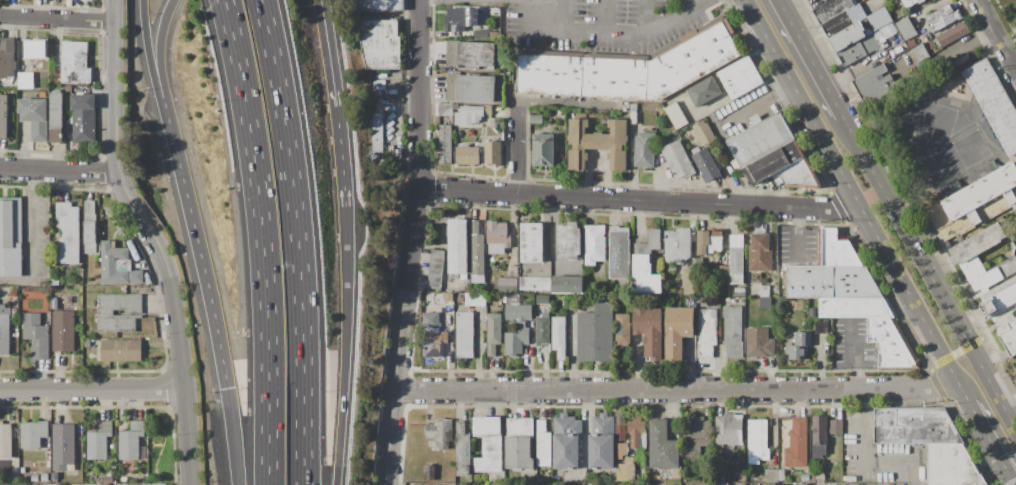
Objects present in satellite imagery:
road: (692, 2)
building: (911, 2)
building: (378, 5)
building: (832, 9)
building: (856, 13)
road: (600, 15)
road: (647, 16)
road: (57, 18)
building: (943, 18)
building: (460, 19)
building: (879, 19)
road: (323, 20)
parking lot: (602, 24)
building: (906, 28)
road: (622, 31)
building: (481, 34)
building: (953, 34)
road: (996, 34)
building: (847, 36)
building: (380, 44)
building: (911, 44)
building: (36, 48)
road: (161, 49)
building: (858, 49)
road: (149, 51)
building: (920, 53)
building: (470, 54)
building: (7, 58)
road: (810, 59)
building: (75, 63)
building: (629, 67)
building: (741, 77)
building: (26, 80)
building: (875, 85)
building: (470, 88)
building: (507, 91)
building: (704, 91)
building: (993, 102)
road: (570, 104)
building: (446, 109)
building: (488, 109)
building: (536, 110)
building: (633, 113)
building: (469, 115)
building: (676, 115)
building: (4, 116)
building: (69, 116)
building: (35, 117)
building: (83, 117)
building: (57, 118)
building: (536, 119)
building: (377, 126)
building: (704, 132)
building: (760, 141)
building: (597, 143)
building: (445, 145)
road: (519, 149)
building: (543, 150)
building: (644, 150)
road: (340, 153)
building: (493, 153)
building: (467, 155)
building: (678, 160)
building: (1014, 160)
building: (774, 162)
building: (708, 163)
road: (58, 170)
building: (799, 175)
building: (947, 190)
building: (1014, 190)
building: (975, 197)
road: (857, 201)
road: (641, 202)
building: (1014, 206)
building: (90, 227)
building: (69, 233)
building: (11, 237)
building: (497, 237)
road: (152, 240)
road: (261, 240)
road: (31, 241)
road: (297, 241)
building: (569, 241)
building: (709, 241)
road: (414, 243)
building: (532, 243)
road: (197, 244)
building: (594, 244)
building: (677, 245)
building: (457, 247)
building: (837, 249)
building: (619, 253)
building: (760, 253)
building: (477, 254)
building: (965, 256)
building: (737, 259)
building: (646, 263)
building: (117, 265)
building: (672, 268)
building: (436, 269)
building: (721, 272)
road: (928, 273)
building: (689, 280)
building: (830, 281)
building: (534, 283)
building: (566, 284)
building: (507, 285)
building: (763, 291)
building: (739, 292)
building: (475, 299)
building: (542, 299)
building: (461, 300)
building: (999, 300)
building: (54, 303)
building: (766, 303)
building: (854, 308)
building: (516, 309)
building: (803, 311)
building: (133, 312)
building: (813, 312)
building: (821, 326)
building: (4, 330)
building: (542, 330)
building: (623, 330)
building: (63, 331)
building: (649, 331)
building: (678, 331)
building: (733, 331)
building: (493, 333)
building: (597, 333)
building: (707, 333)
building: (1008, 334)
building: (37, 335)
building: (464, 335)
building: (434, 336)
building: (559, 337)
building: (803, 338)
building: (516, 341)
building: (87, 343)
building: (759, 343)
building: (892, 344)
building: (121, 350)
building: (796, 352)
road: (957, 353)
road: (856, 355)
building: (1015, 360)
building: (1015, 370)
road: (343, 376)
road: (91, 388)
road: (679, 390)
building: (620, 418)
building: (914, 426)
building: (836, 427)
road: (868, 427)
building: (620, 432)
building: (729, 432)
building: (441, 433)
building: (637, 433)
building: (33, 434)
building: (696, 435)
road: (229, 436)
building: (819, 436)
building: (5, 440)
building: (99, 441)
building: (131, 441)
building: (757, 441)
building: (566, 442)
building: (488, 443)
building: (601, 443)
building: (518, 444)
building: (543, 444)
building: (797, 444)
road: (991, 444)
building: (63, 446)
building: (663, 447)
building: (462, 449)
road: (908, 460)
building: (950, 465)
building: (626, 469)
building: (23, 470)
building: (429, 473)
building: (782, 475)
building: (771, 476)
building: (805, 476)
building: (817, 476)
building: (44, 477)
building: (55, 477)
building: (14, 478)
building: (35, 478)
building: (107, 479)
building: (722, 479)
building: (99, 480)
building: (541, 480)
building: (555, 480)
building: (123, 481)
building: (720, 483)
building: (7, 484)
building: (461, 484)
building: (484, 484)
building: (771, 484)

